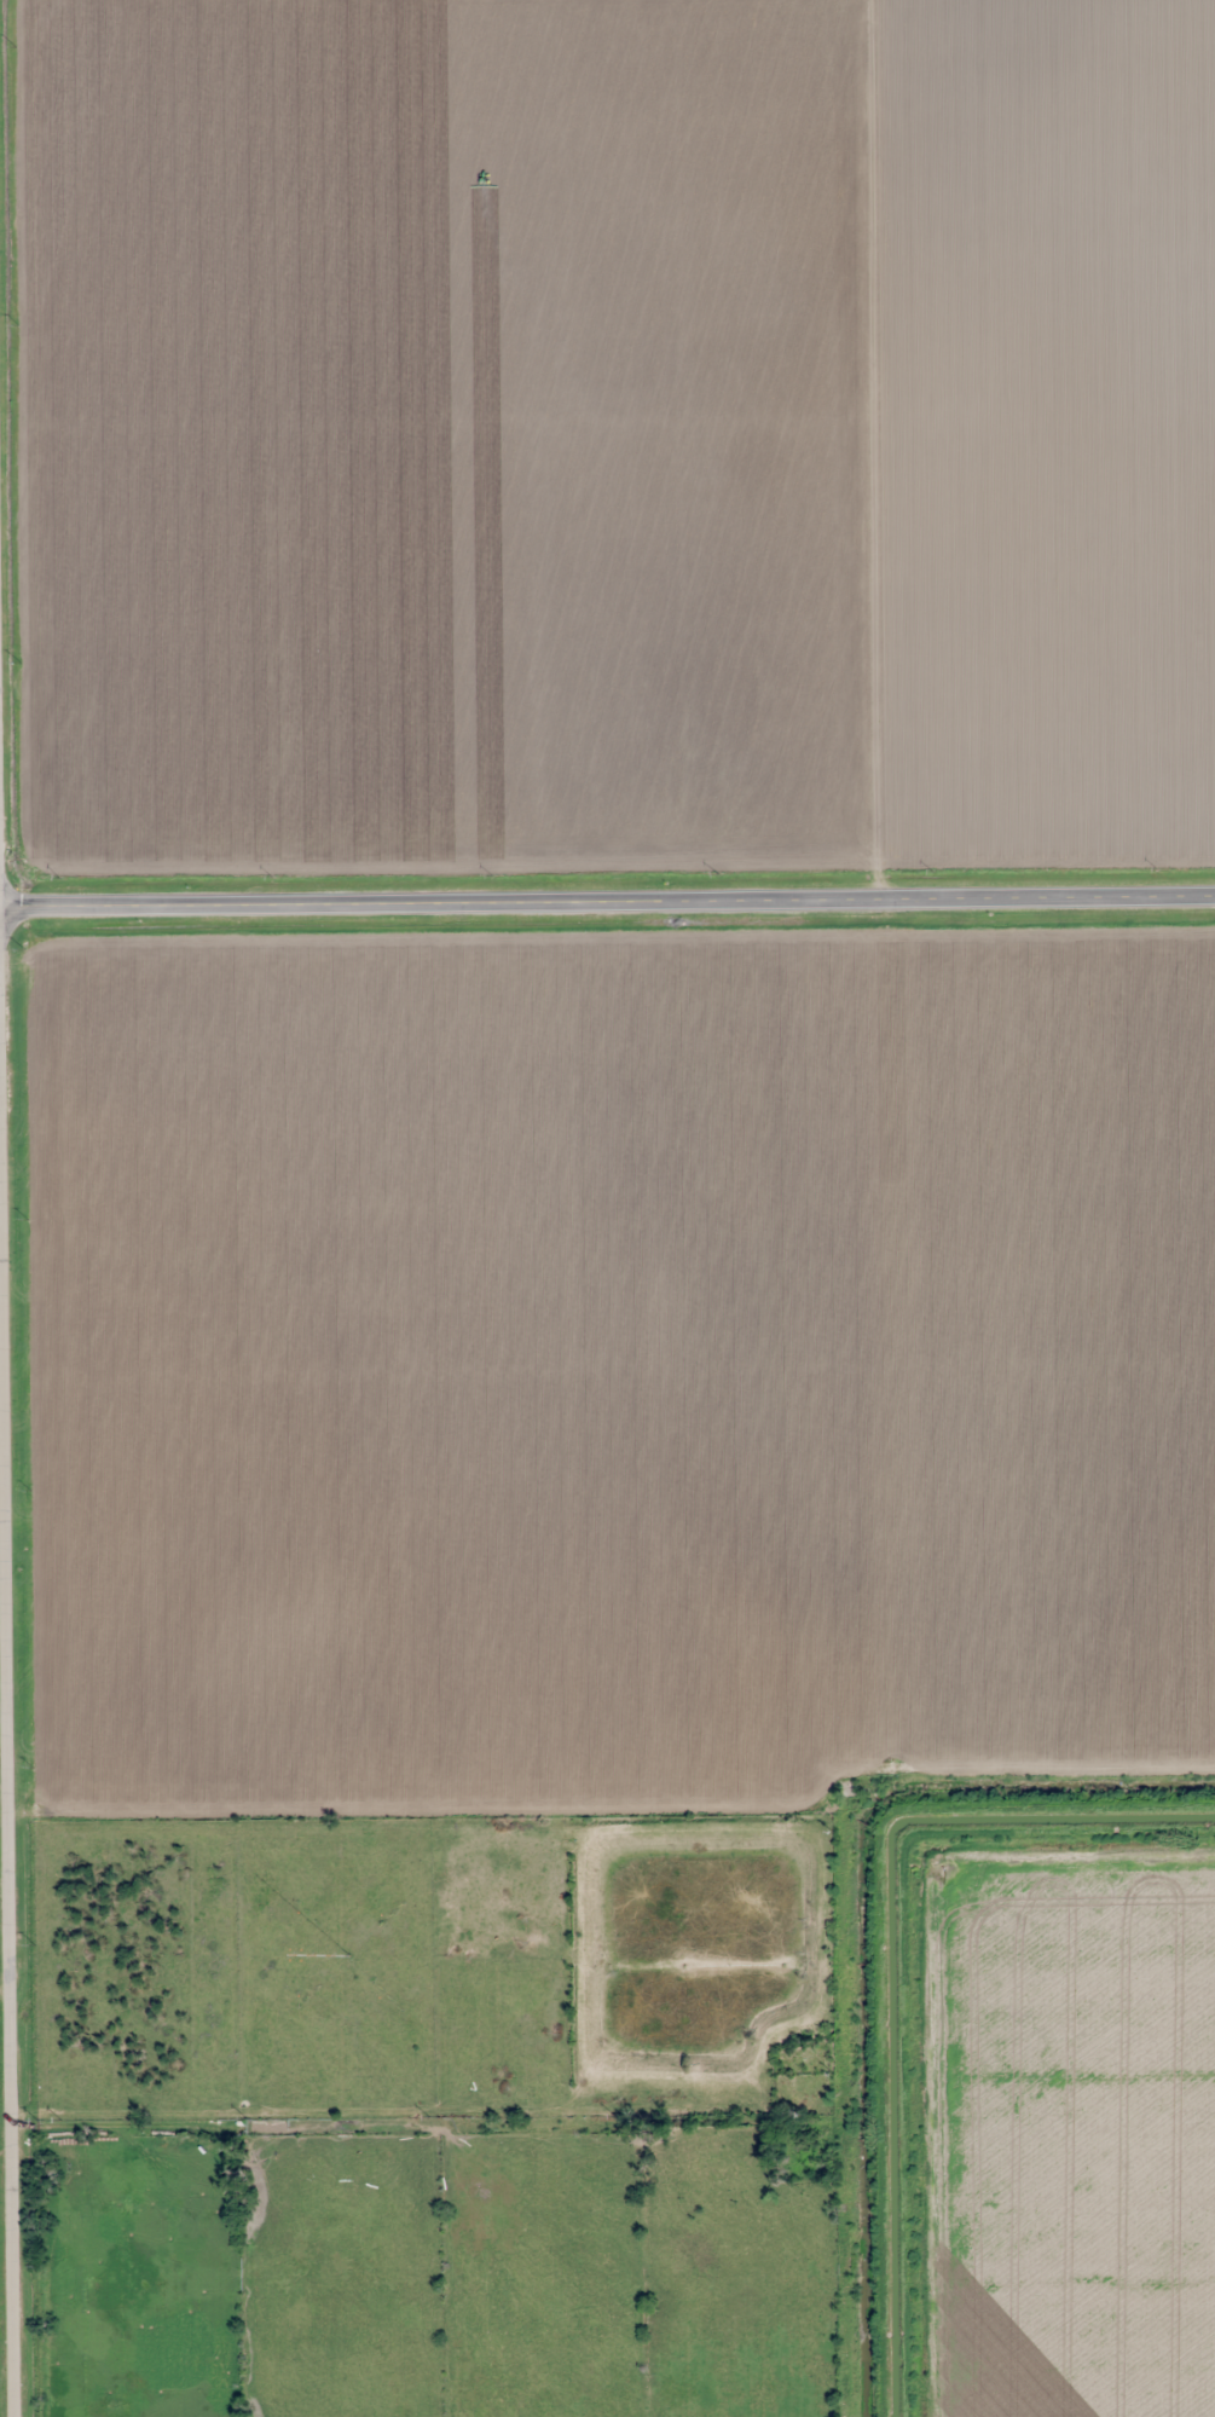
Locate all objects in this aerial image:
road: (607, 900)
road: (2, 1950)

